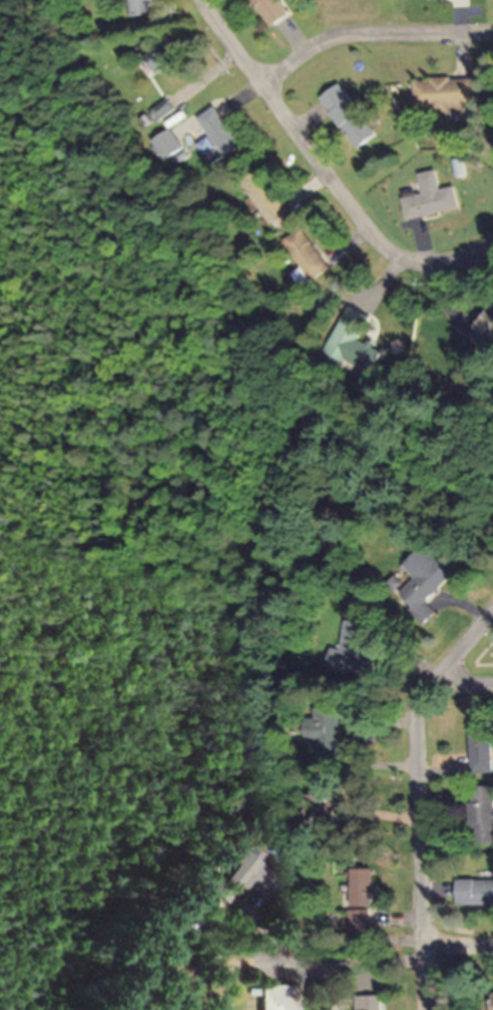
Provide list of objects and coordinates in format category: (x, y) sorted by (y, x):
building: (140, 8)
building: (271, 11)
road: (371, 34)
building: (163, 57)
building: (445, 93)
building: (164, 110)
building: (348, 116)
building: (218, 133)
road: (327, 171)
building: (266, 197)
building: (426, 197)
building: (306, 257)
building: (345, 343)
building: (422, 584)
building: (355, 648)
road: (468, 681)
building: (329, 736)
building: (481, 753)
road: (419, 800)
building: (320, 806)
building: (481, 815)
building: (238, 879)
building: (361, 890)
building: (474, 892)
building: (360, 920)
road: (460, 946)
building: (279, 997)
building: (492, 1002)
building: (370, 1003)

